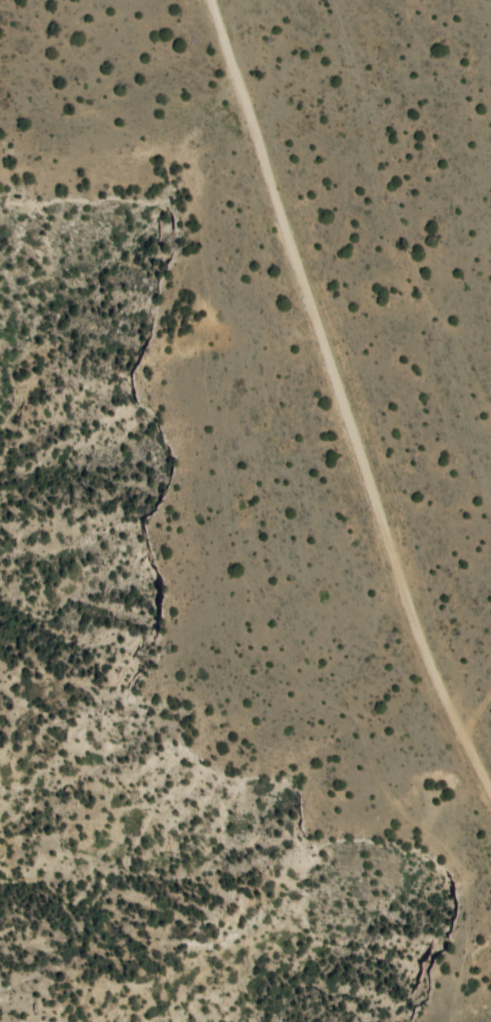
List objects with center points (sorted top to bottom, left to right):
road: (103, 157)
road: (234, 196)
road: (340, 400)
road: (264, 631)
road: (477, 713)

